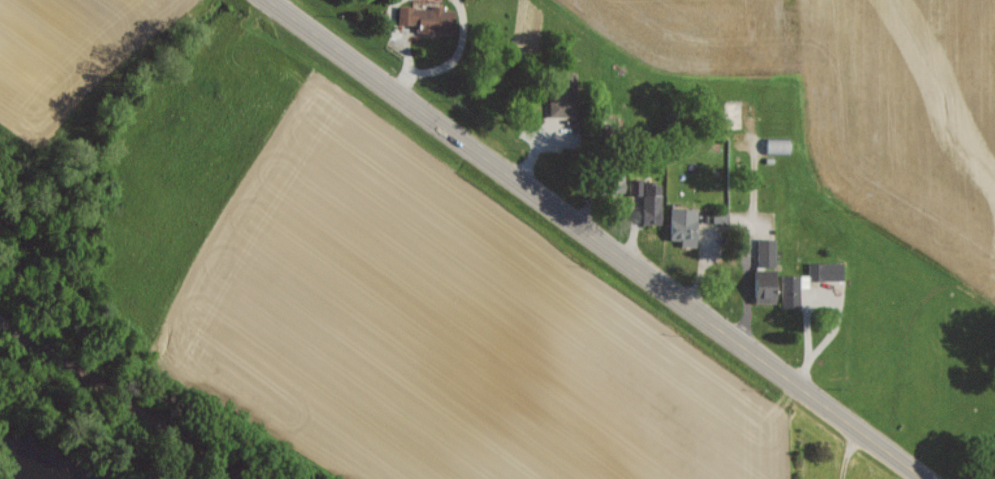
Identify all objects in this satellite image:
building: (421, 17)
building: (556, 101)
crop: (858, 103)
building: (608, 179)
building: (645, 200)
road: (550, 207)
building: (716, 216)
building: (678, 225)
building: (762, 252)
building: (822, 270)
building: (757, 285)
building: (788, 289)
railway: (117, 402)
road: (878, 447)
building: (992, 449)

